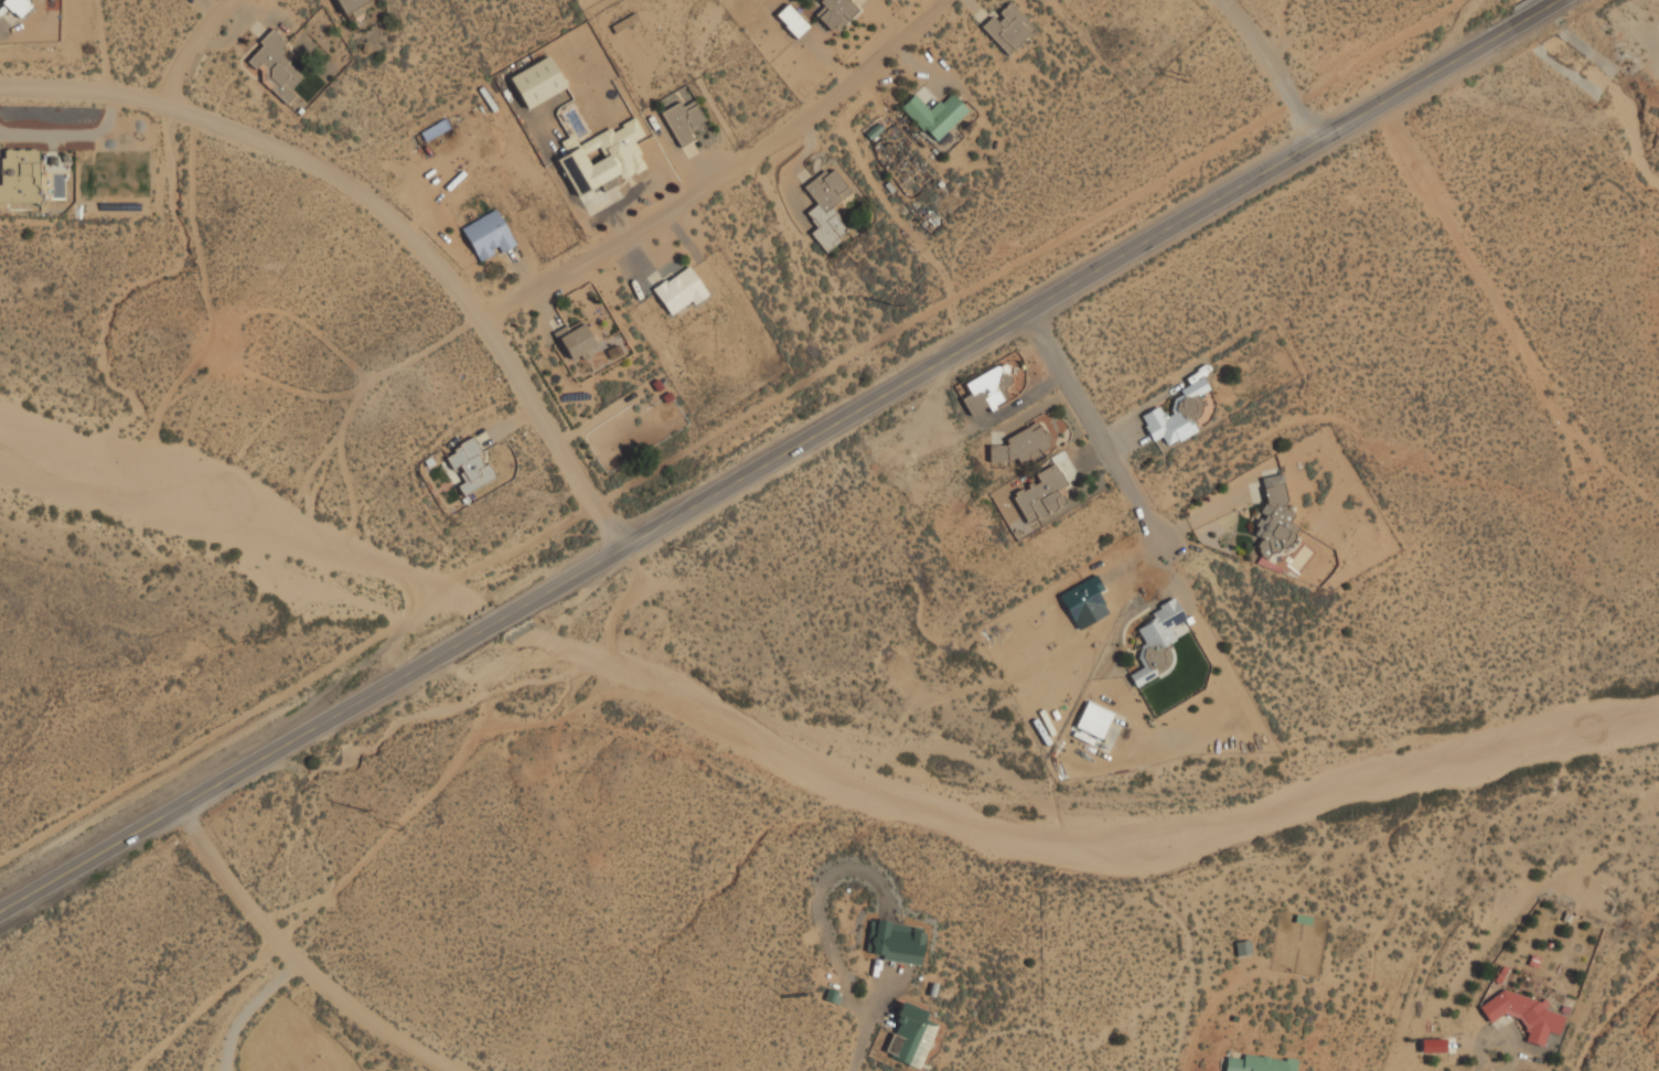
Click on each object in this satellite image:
building: (350, 4)
building: (17, 7)
building: (834, 12)
building: (791, 21)
building: (624, 23)
building: (1007, 29)
building: (274, 66)
road: (1271, 66)
power tower: (1181, 77)
building: (537, 82)
road: (163, 95)
building: (934, 115)
building: (682, 121)
building: (435, 130)
building: (601, 158)
road: (721, 173)
building: (18, 178)
building: (825, 205)
road: (383, 213)
building: (488, 235)
road: (1089, 279)
building: (679, 291)
power tower: (888, 299)
building: (575, 340)
building: (1194, 387)
building: (986, 389)
road: (1096, 426)
building: (1166, 426)
building: (1020, 446)
building: (469, 467)
building: (1040, 494)
building: (1273, 518)
power tower: (685, 553)
building: (1154, 636)
building: (1099, 724)
road: (315, 739)
power tower: (362, 811)
power tower: (396, 828)
building: (1242, 949)
road: (308, 964)
building: (1523, 1015)
road: (864, 1021)
building: (910, 1038)
building: (1434, 1046)
building: (1257, 1063)
road: (1489, 1063)

